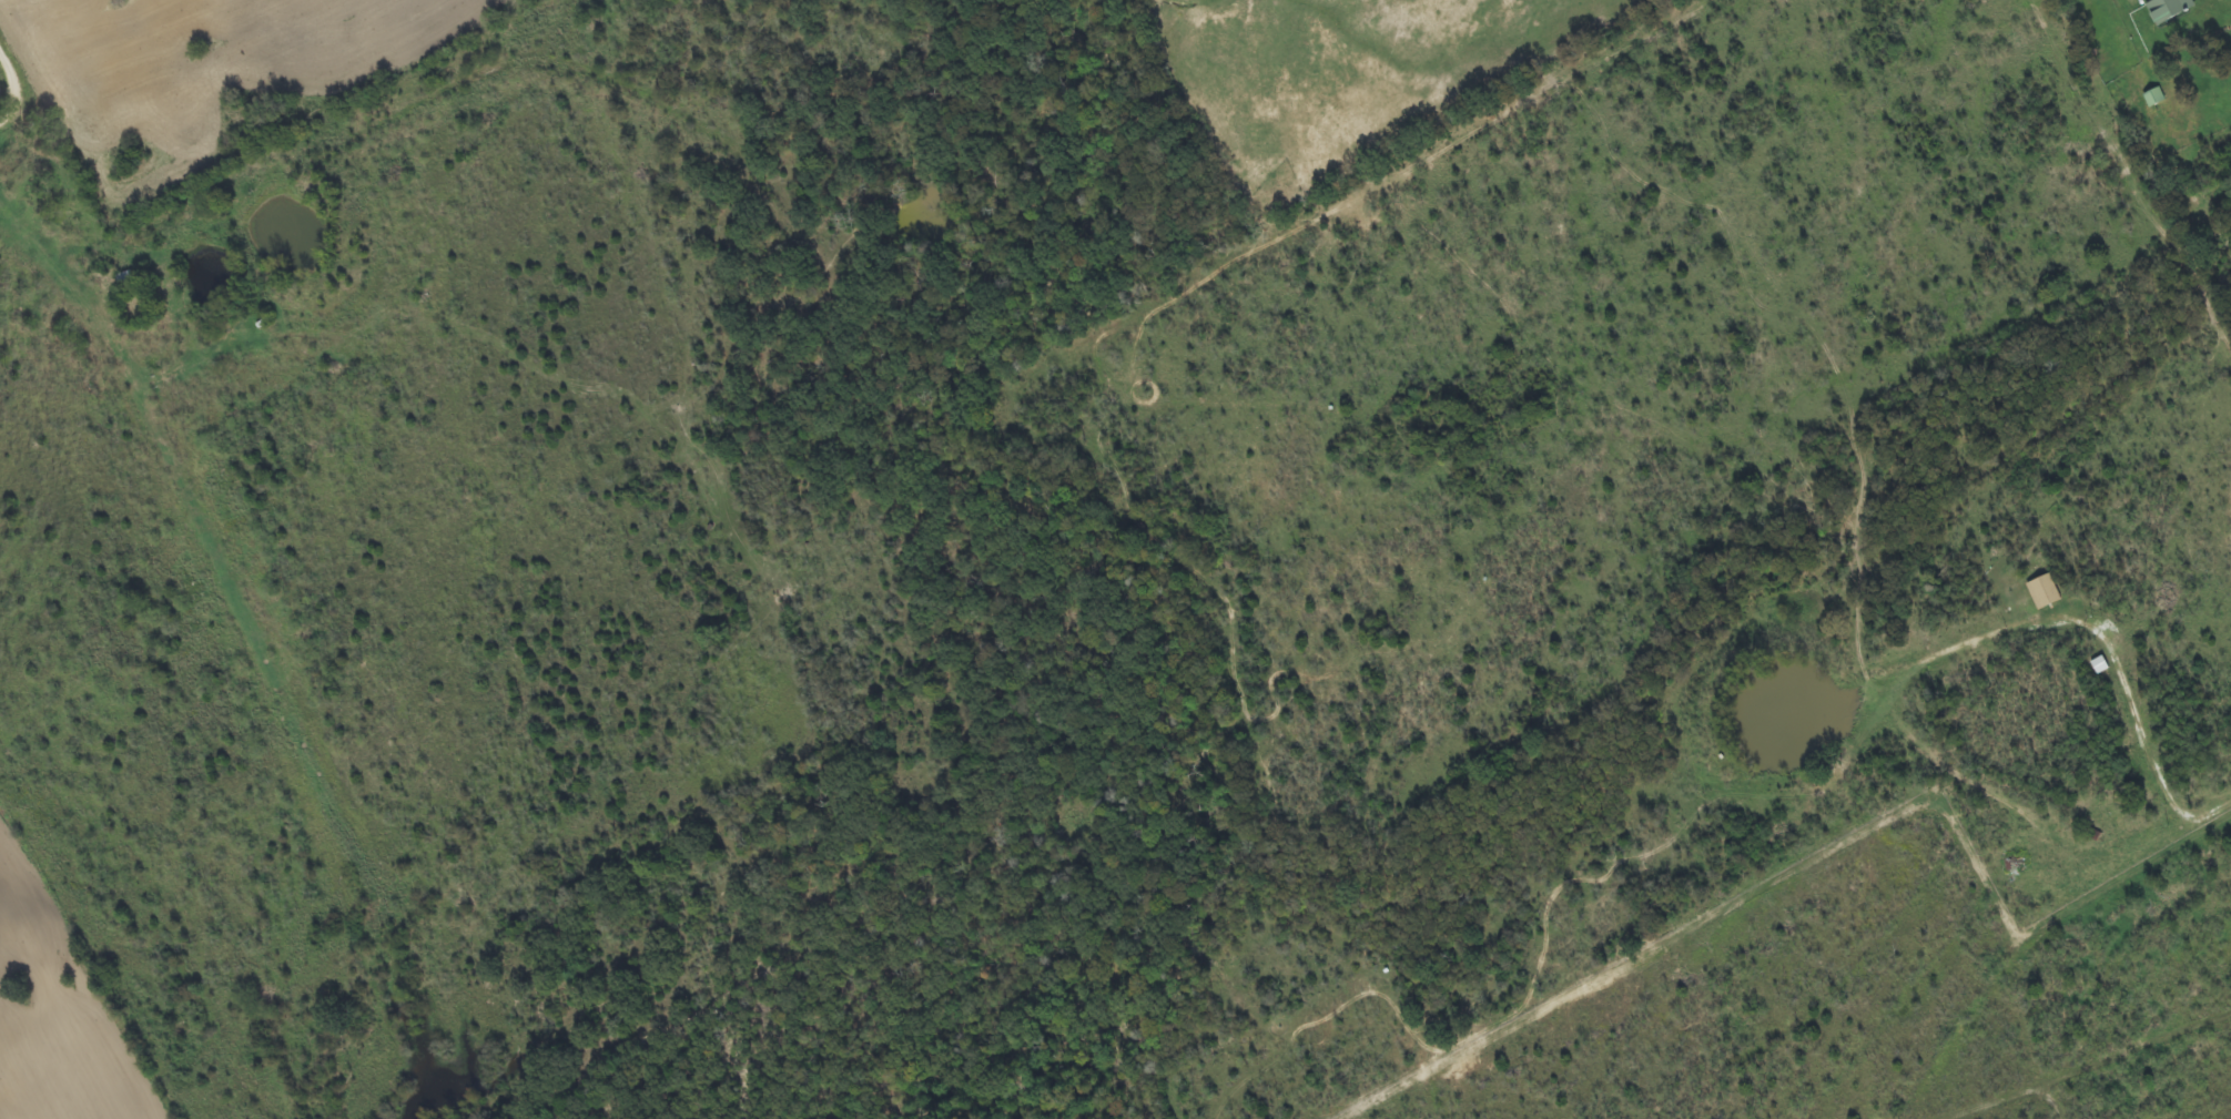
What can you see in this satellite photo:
road: (20, 85)
building: (2157, 99)

